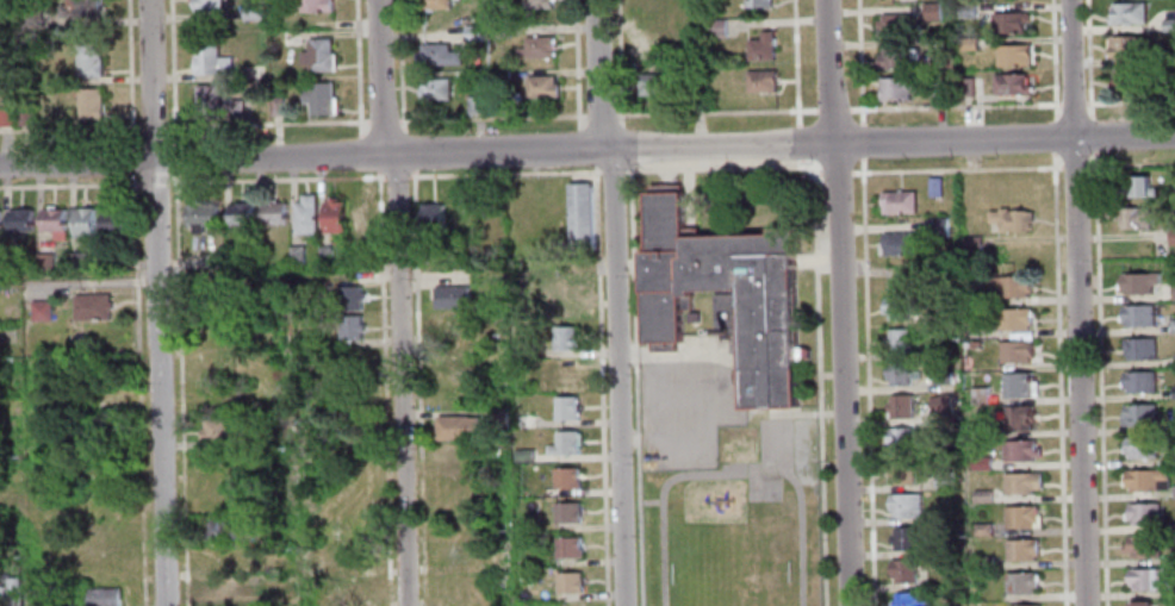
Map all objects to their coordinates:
building: (757, 2)
building: (434, 4)
building: (536, 4)
building: (653, 4)
building: (205, 5)
building: (313, 6)
building: (80, 8)
building: (965, 10)
building: (930, 12)
building: (250, 13)
building: (1126, 13)
building: (30, 19)
building: (1006, 23)
building: (895, 25)
building: (1168, 26)
building: (715, 29)
building: (499, 31)
building: (472, 32)
building: (288, 38)
building: (654, 40)
building: (968, 44)
building: (759, 46)
building: (1124, 46)
building: (535, 48)
building: (317, 55)
building: (436, 55)
building: (1012, 55)
building: (895, 57)
building: (207, 58)
building: (88, 60)
road: (1051, 60)
road: (1086, 60)
road: (792, 62)
road: (857, 62)
road: (615, 63)
road: (398, 65)
road: (574, 65)
road: (355, 68)
building: (253, 70)
road: (126, 73)
road: (170, 73)
road: (596, 74)
road: (379, 76)
building: (499, 76)
building: (1126, 79)
building: (759, 81)
building: (655, 82)
building: (1009, 83)
building: (540, 87)
building: (895, 87)
building: (965, 87)
building: (1169, 87)
building: (434, 89)
building: (935, 90)
building: (318, 99)
building: (694, 100)
building: (213, 102)
road: (1129, 102)
road: (1069, 104)
building: (88, 105)
building: (475, 105)
road: (951, 106)
building: (275, 107)
road: (829, 110)
road: (714, 112)
road: (598, 115)
building: (6, 117)
building: (24, 117)
road: (489, 118)
road: (379, 121)
road: (263, 123)
road: (149, 126)
road: (68, 129)
road: (1052, 129)
road: (859, 135)
road: (1089, 135)
road: (795, 142)
road: (890, 142)
road: (622, 145)
road: (584, 148)
road: (405, 151)
road: (366, 154)
road: (303, 156)
road: (130, 158)
road: (173, 158)
road: (796, 162)
road: (1129, 165)
road: (723, 167)
road: (1071, 168)
road: (953, 170)
road: (609, 171)
road: (833, 174)
road: (502, 175)
road: (393, 177)
road: (273, 179)
road: (151, 183)
building: (1173, 183)
road: (68, 186)
building: (1133, 186)
building: (933, 187)
building: (1011, 189)
building: (896, 202)
building: (240, 213)
building: (273, 213)
building: (200, 215)
building: (304, 215)
building: (331, 215)
building: (579, 215)
building: (430, 217)
building: (359, 218)
building: (1131, 218)
building: (18, 220)
building: (1006, 220)
building: (110, 221)
building: (51, 223)
building: (82, 223)
building: (490, 223)
building: (935, 227)
building: (1170, 236)
building: (897, 243)
building: (970, 243)
building: (296, 255)
building: (323, 255)
road: (132, 257)
building: (210, 260)
building: (76, 261)
building: (44, 262)
building: (117, 263)
road: (139, 281)
building: (1137, 283)
building: (1012, 286)
building: (1173, 290)
building: (449, 296)
building: (756, 296)
building: (348, 298)
building: (216, 299)
road: (155, 302)
building: (565, 302)
road: (839, 302)
road: (1075, 302)
building: (89, 306)
building: (899, 307)
building: (39, 311)
building: (1134, 316)
building: (695, 319)
building: (1013, 319)
building: (449, 321)
building: (1171, 326)
building: (349, 327)
building: (562, 338)
building: (899, 341)
building: (972, 344)
building: (1138, 349)
building: (522, 351)
building: (939, 351)
building: (1014, 351)
building: (1173, 358)
building: (450, 367)
building: (565, 374)
building: (897, 374)
road: (616, 376)
road: (1098, 377)
building: (939, 379)
road: (399, 380)
building: (1137, 381)
road: (599, 385)
road: (633, 385)
building: (1017, 386)
road: (179, 388)
road: (381, 388)
road: (415, 388)
road: (815, 388)
building: (1173, 392)
road: (715, 394)
building: (978, 395)
road: (646, 399)
road: (676, 399)
building: (900, 406)
building: (940, 406)
building: (564, 408)
parking lot: (686, 412)
road: (806, 414)
building: (1137, 416)
building: (497, 418)
building: (1017, 418)
building: (522, 420)
building: (1173, 425)
building: (456, 427)
building: (213, 430)
building: (899, 439)
building: (251, 441)
building: (564, 443)
road: (771, 444)
building: (1139, 448)
building: (1018, 451)
building: (522, 455)
building: (1173, 460)
building: (980, 463)
road: (729, 473)
building: (901, 473)
building: (564, 479)
building: (943, 480)
building: (1145, 480)
building: (1020, 483)
building: (1173, 492)
building: (981, 496)
road: (639, 501)
building: (904, 506)
building: (565, 512)
building: (1140, 513)
building: (1019, 517)
building: (218, 529)
building: (981, 530)
building: (274, 536)
building: (1170, 538)
building: (903, 539)
building: (567, 546)
building: (1142, 546)
building: (1020, 550)
building: (340, 556)
building: (982, 562)
building: (902, 571)
road: (147, 576)
building: (1148, 579)
building: (567, 583)
building: (1020, 583)
road: (141, 591)
building: (340, 591)
building: (11, 593)
building: (223, 593)
building: (101, 596)
building: (906, 600)
building: (266, 601)
building: (1138, 604)
building: (61, 605)
building: (572, 605)
building: (1026, 605)

